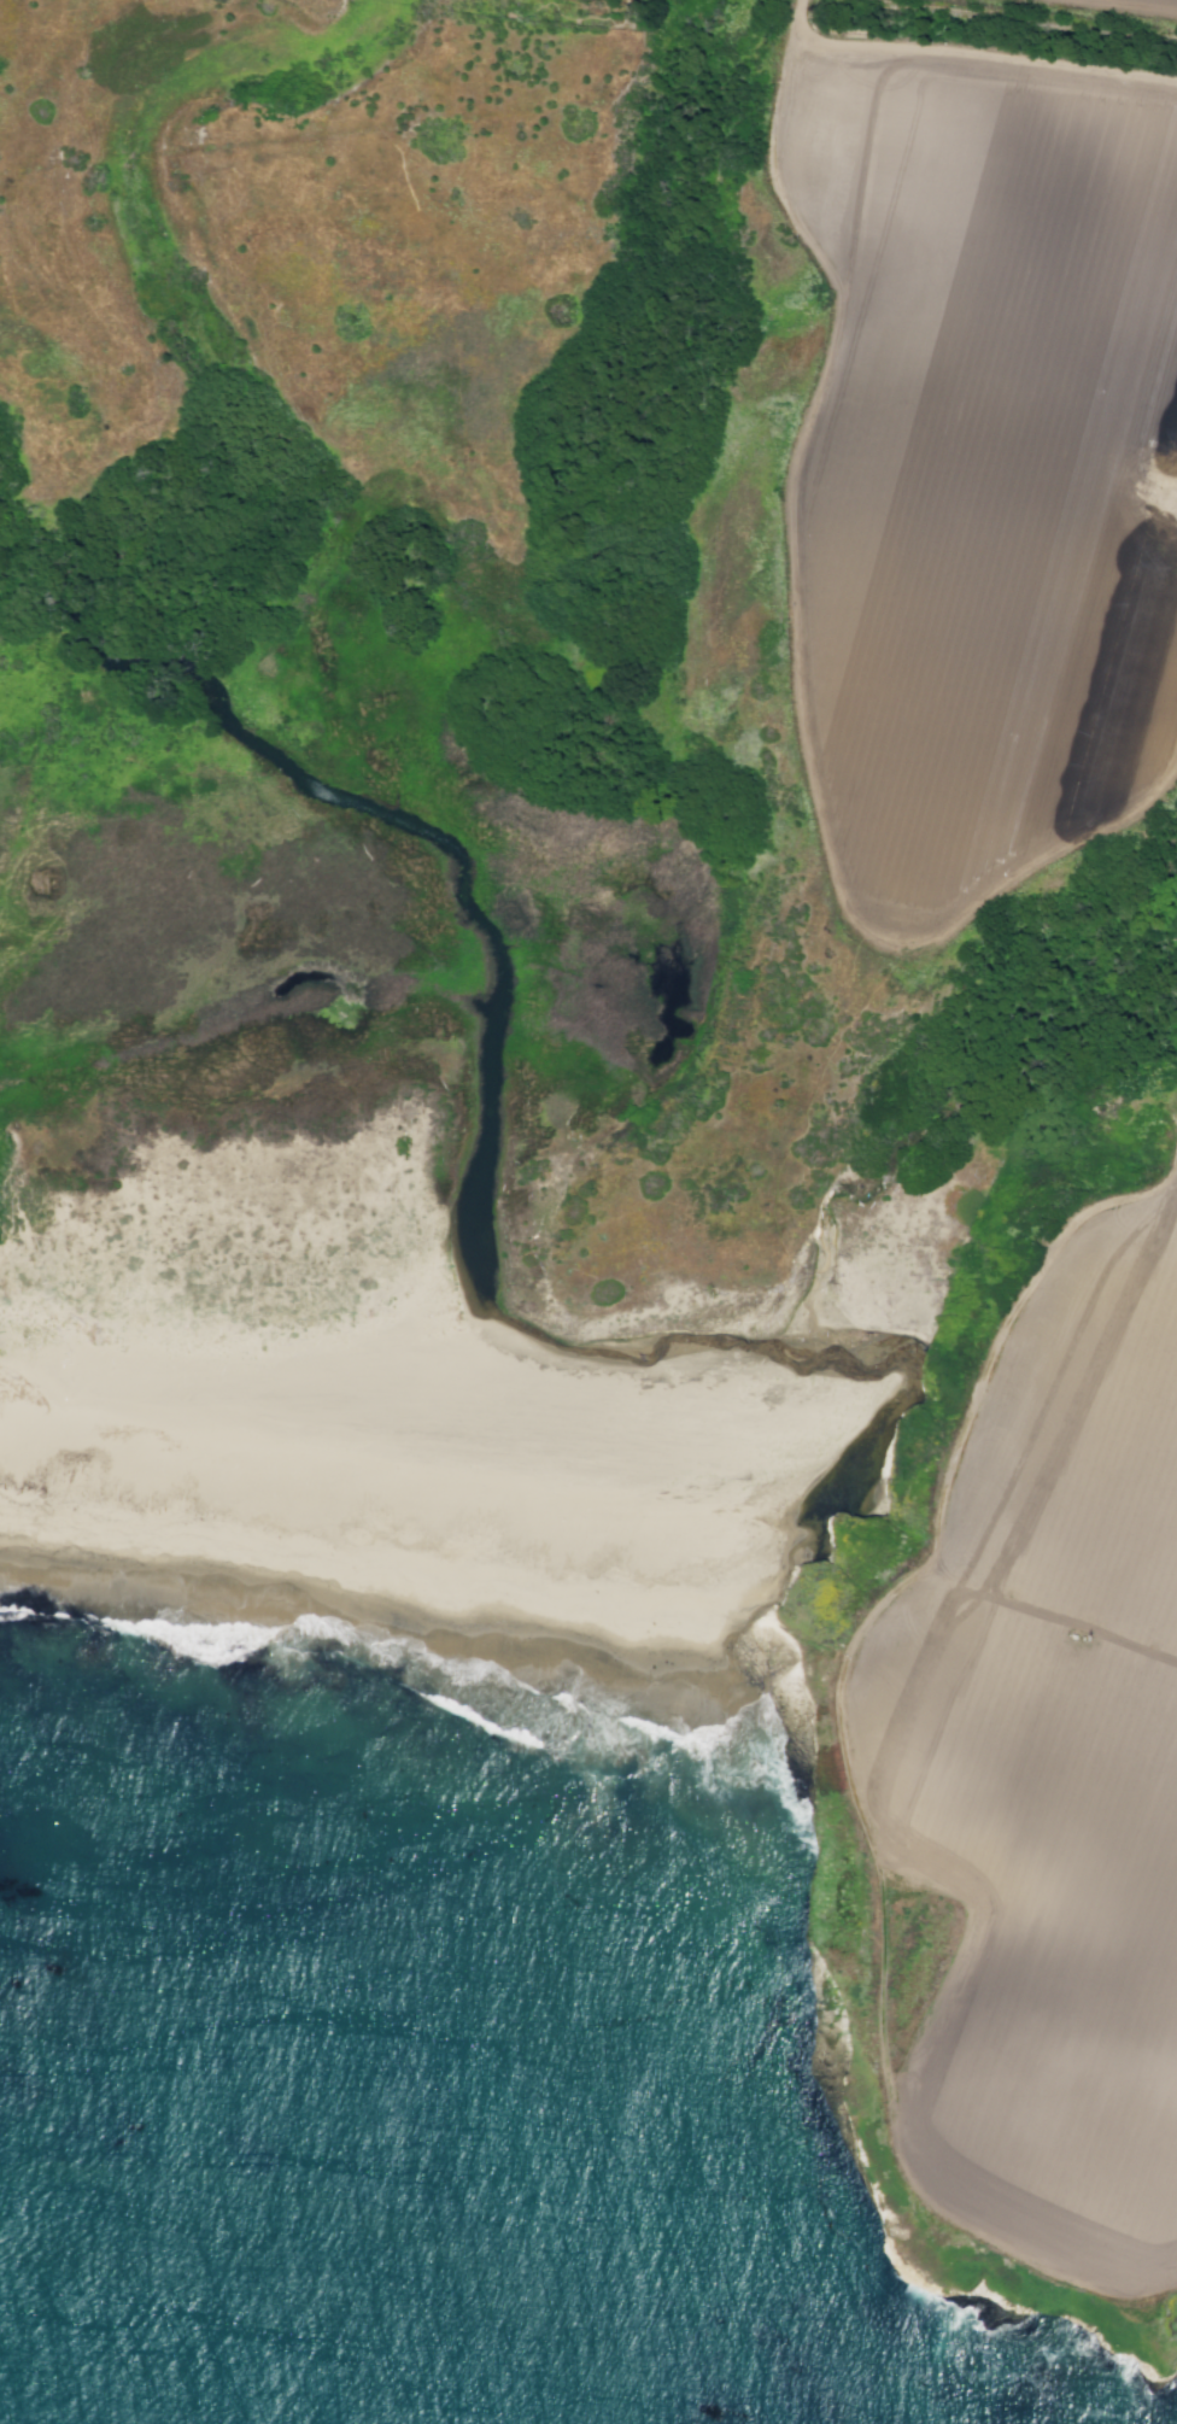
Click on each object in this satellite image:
crop: (1148, 4)
road: (1107, 8)
railway: (1026, 17)
road: (991, 53)
crop: (984, 463)
road: (1160, 534)
road: (798, 646)
road: (1054, 1614)
crop: (1006, 1635)
road: (850, 1753)

